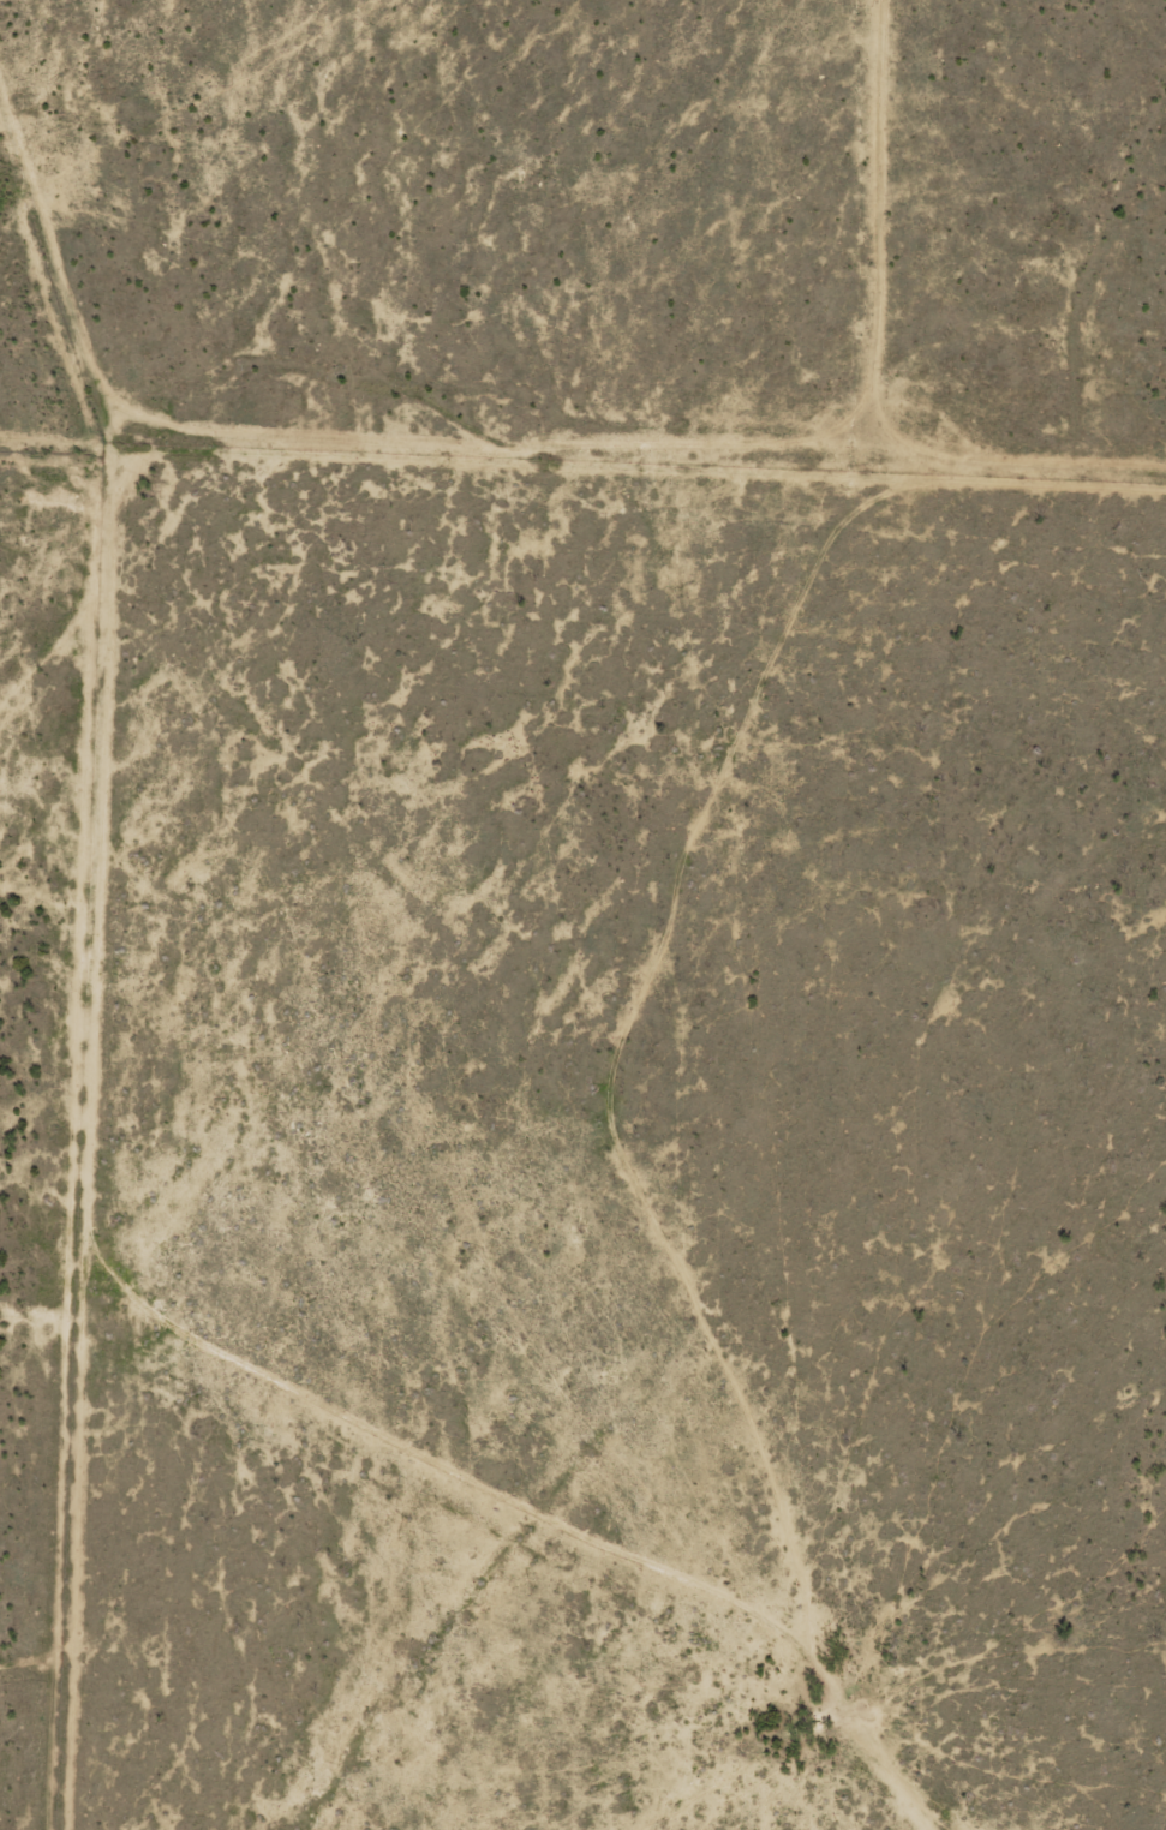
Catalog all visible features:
road: (893, 238)
road: (53, 390)
road: (526, 458)
road: (576, 1094)

